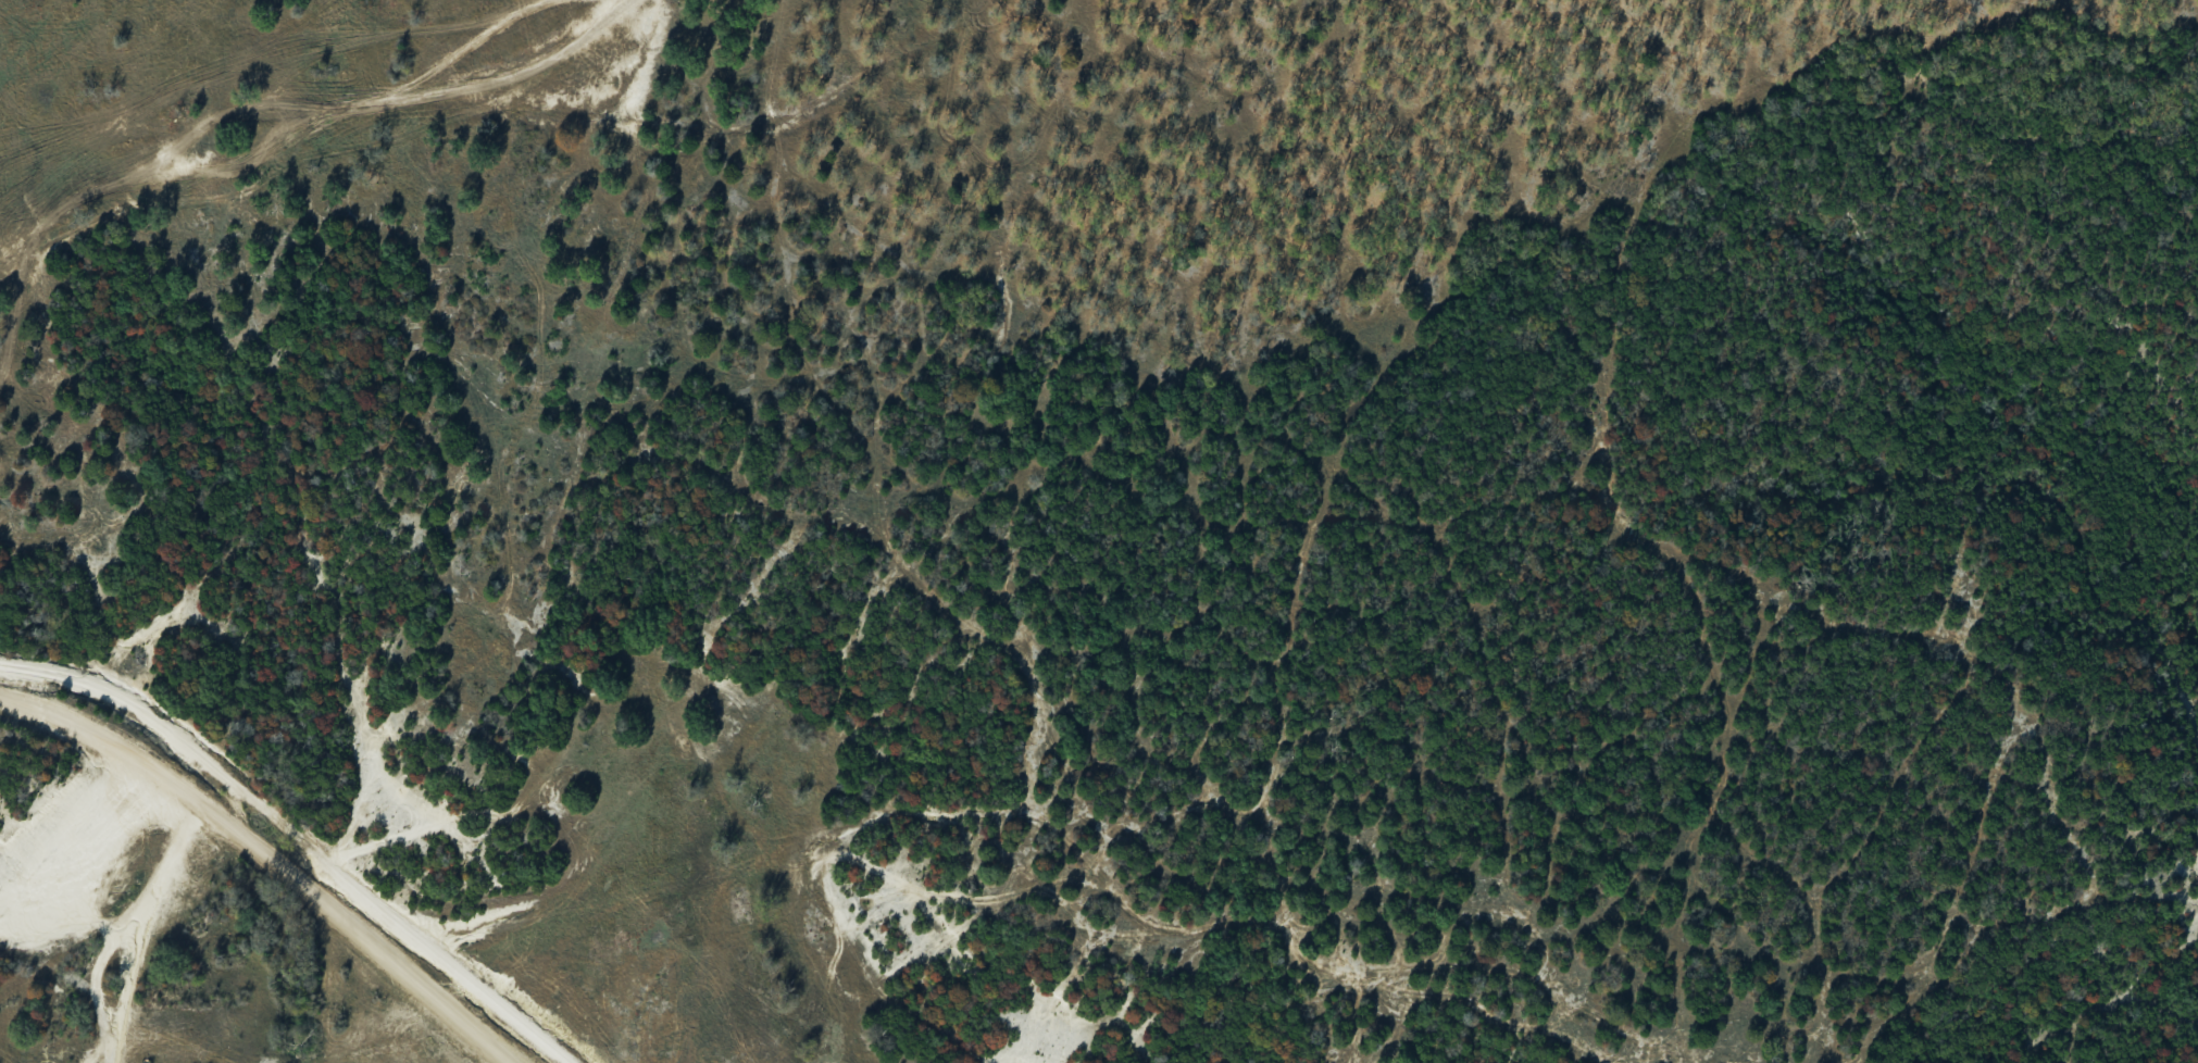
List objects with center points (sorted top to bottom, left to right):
road: (295, 840)
road: (273, 862)

